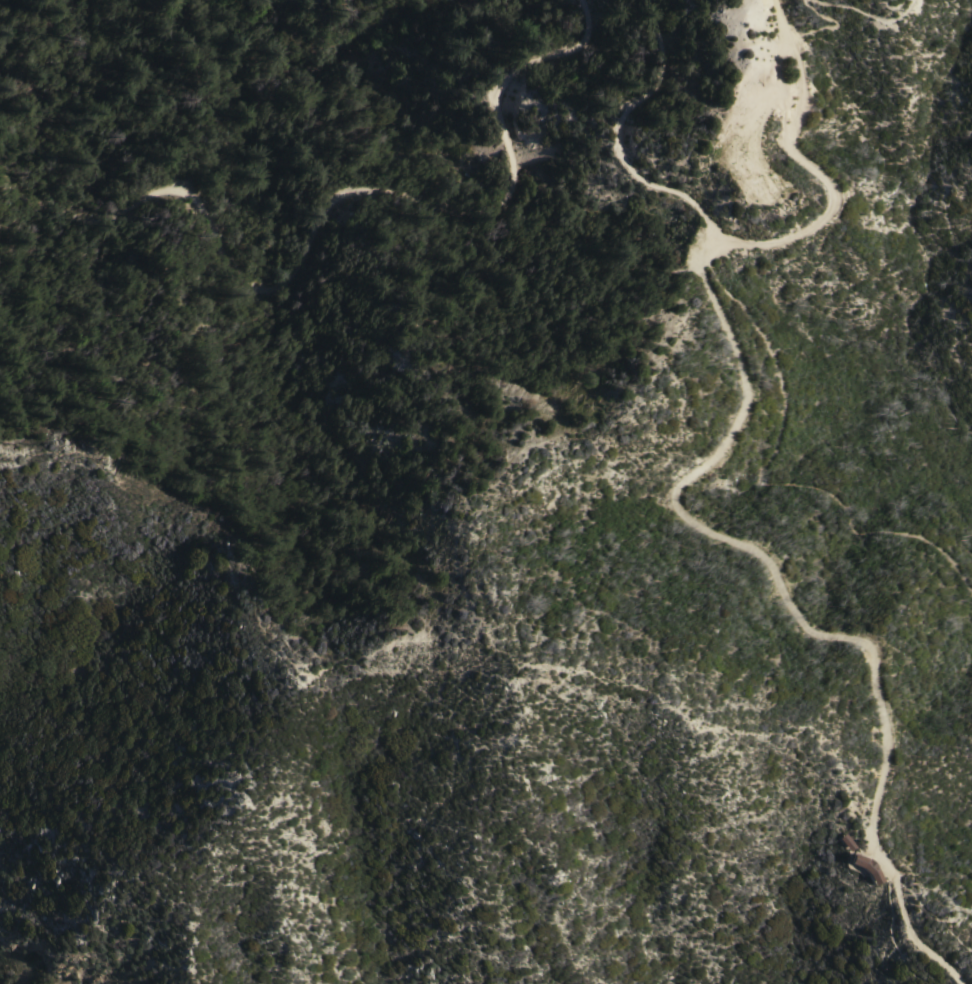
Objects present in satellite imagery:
road: (813, 0)
road: (896, 18)
road: (619, 140)
road: (821, 179)
road: (334, 218)
road: (322, 386)
road: (771, 479)
road: (758, 563)
building: (849, 841)
building: (868, 866)
road: (895, 935)
road: (917, 936)

